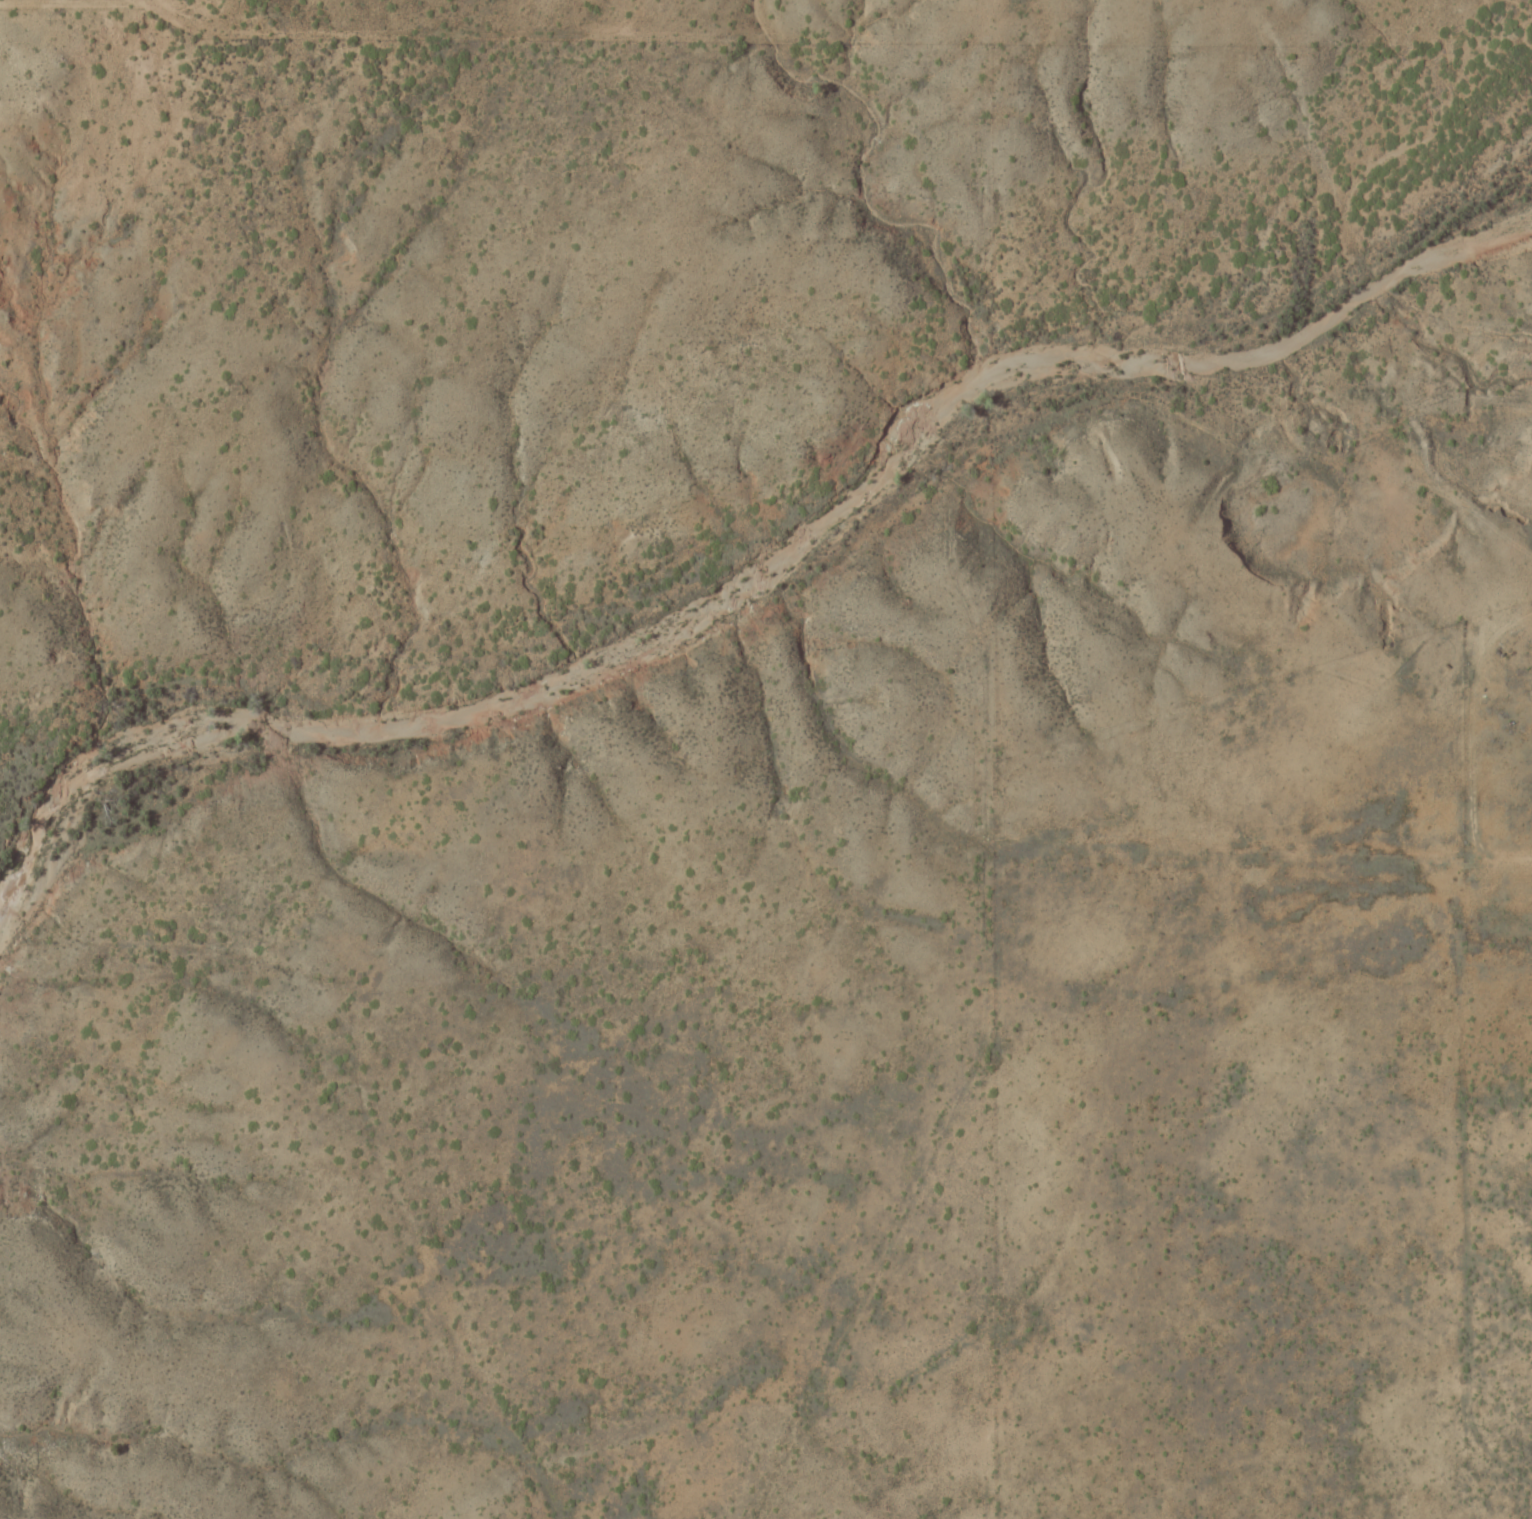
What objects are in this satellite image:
road: (19, 12)

